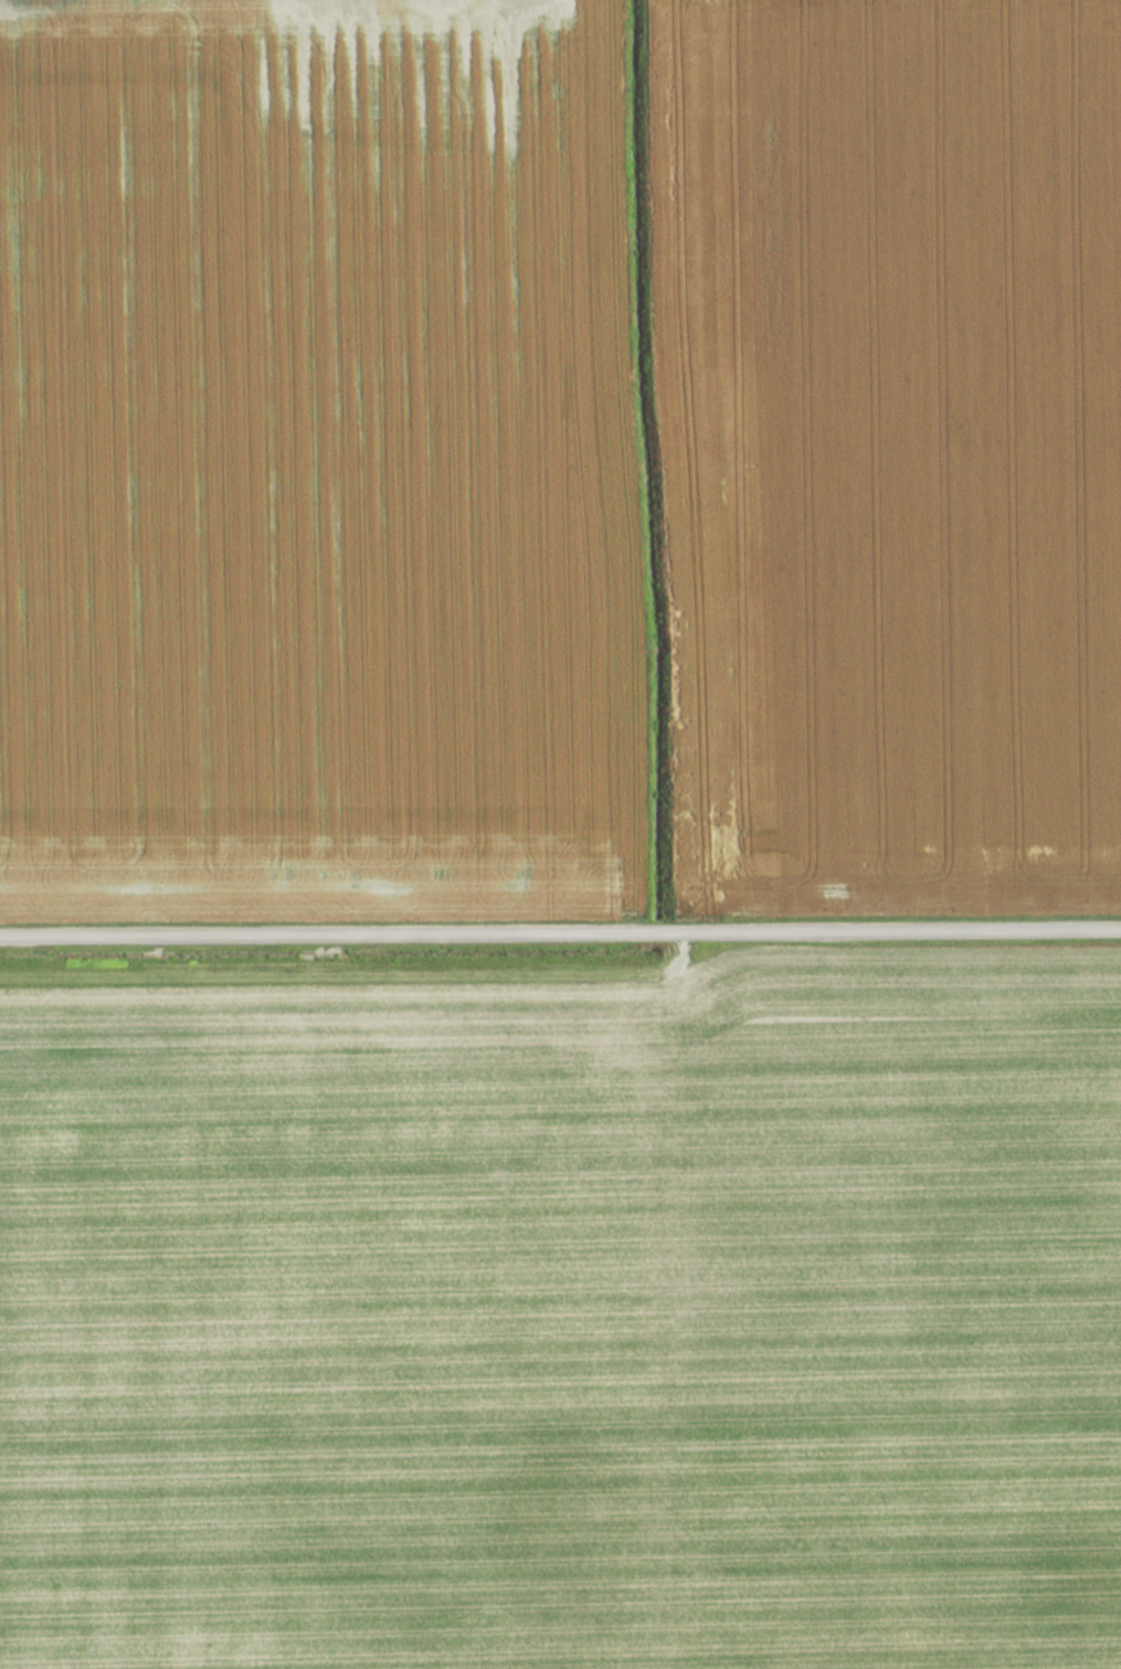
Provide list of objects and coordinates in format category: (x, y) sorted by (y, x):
crop: (888, 443)
crop: (309, 454)
road: (560, 931)
crop: (560, 1320)

